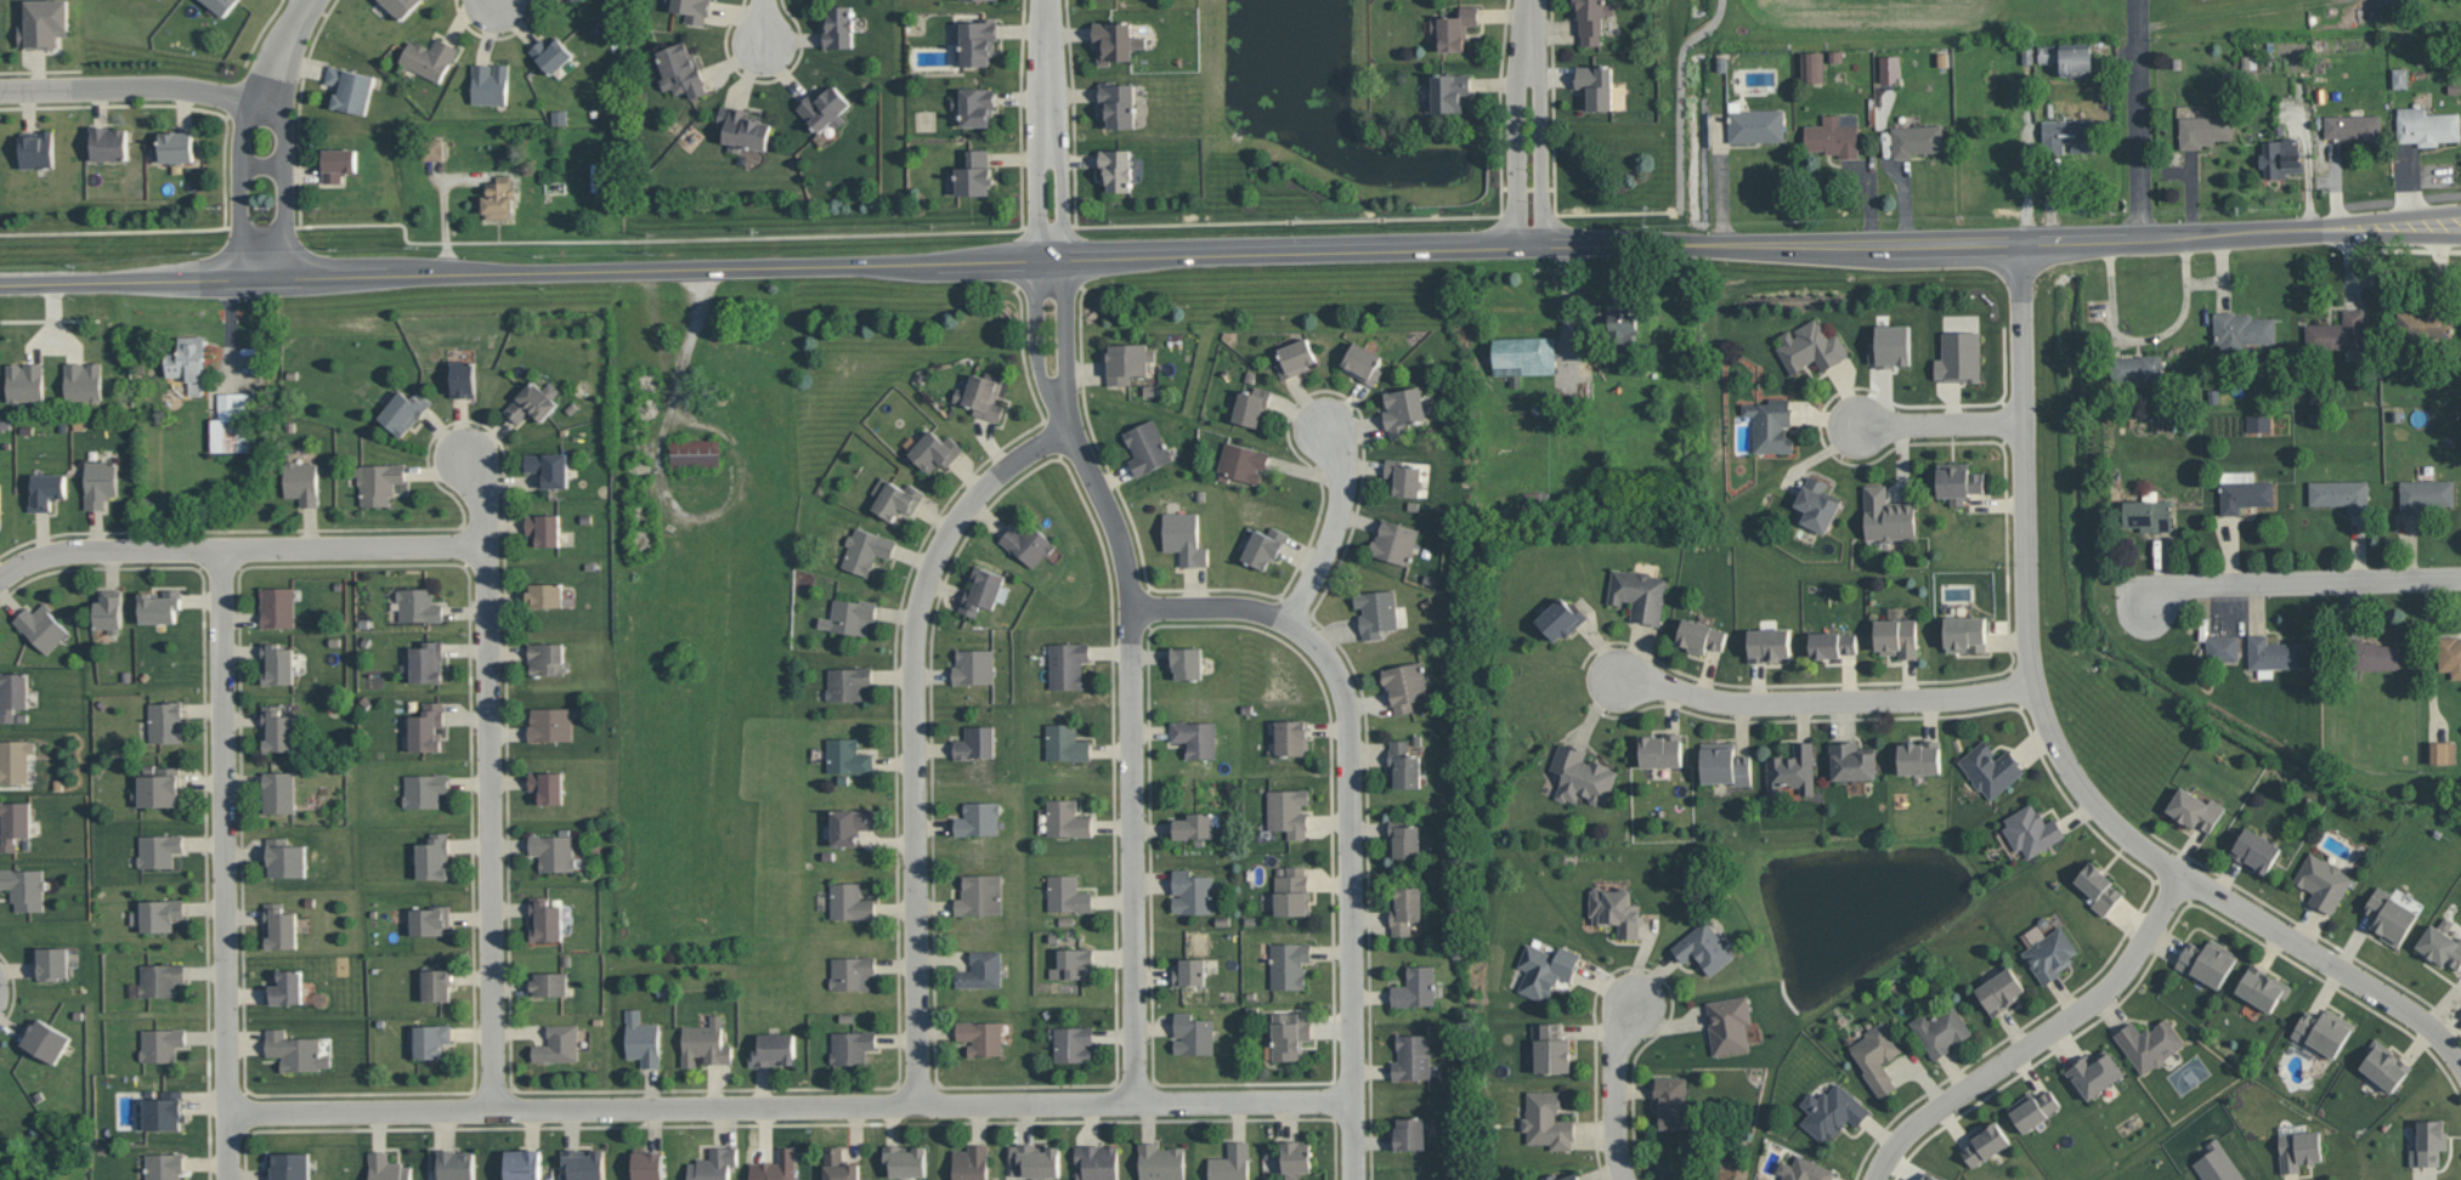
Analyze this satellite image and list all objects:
building: (558, 0)
road: (498, 1)
building: (222, 5)
building: (401, 6)
building: (692, 8)
building: (1591, 18)
road: (758, 19)
building: (45, 23)
building: (839, 27)
building: (1454, 27)
building: (1115, 40)
building: (978, 41)
road: (282, 50)
building: (551, 53)
building: (2047, 53)
building: (429, 57)
building: (2076, 61)
building: (1814, 67)
building: (1889, 68)
building: (681, 69)
building: (2400, 78)
building: (491, 83)
building: (1596, 85)
building: (350, 89)
road: (135, 90)
building: (1449, 91)
road: (1681, 101)
building: (1118, 103)
building: (975, 106)
building: (825, 107)
road: (2137, 118)
road: (1517, 124)
building: (1755, 125)
building: (2353, 126)
building: (2427, 126)
building: (743, 127)
road: (1048, 130)
building: (2203, 130)
building: (1834, 135)
building: (2069, 135)
building: (1916, 140)
building: (109, 143)
building: (176, 146)
building: (38, 148)
building: (435, 148)
building: (2281, 157)
road: (262, 164)
building: (338, 164)
building: (1116, 169)
building: (975, 174)
building: (598, 176)
road: (238, 189)
road: (285, 189)
building: (499, 198)
road: (1599, 211)
road: (2387, 215)
road: (2388, 232)
road: (1158, 257)
building: (2422, 320)
building: (1622, 322)
building: (2244, 331)
building: (2338, 331)
building: (1890, 345)
building: (1811, 346)
building: (1524, 354)
road: (685, 357)
building: (1295, 357)
building: (1958, 357)
building: (1128, 361)
building: (189, 363)
building: (1363, 363)
building: (2137, 368)
building: (463, 379)
building: (83, 380)
building: (26, 381)
building: (983, 396)
building: (533, 402)
building: (1251, 403)
building: (1403, 408)
building: (404, 410)
building: (231, 422)
road: (1940, 422)
building: (2258, 422)
building: (1771, 424)
building: (1147, 446)
building: (935, 449)
building: (696, 452)
building: (1241, 463)
building: (550, 466)
building: (1403, 477)
building: (379, 481)
building: (1958, 481)
building: (100, 482)
building: (301, 482)
building: (46, 489)
building: (2244, 492)
building: (2341, 494)
building: (2427, 494)
building: (896, 498)
building: (1816, 503)
building: (1886, 515)
building: (2149, 515)
building: (0, 521)
building: (544, 527)
road: (1334, 528)
building: (1184, 537)
building: (1394, 541)
building: (1028, 543)
road: (238, 546)
building: (1265, 546)
building: (866, 549)
road: (2302, 582)
building: (983, 590)
building: (545, 594)
building: (1639, 594)
building: (419, 605)
building: (160, 606)
building: (277, 606)
building: (109, 611)
building: (1376, 611)
building: (849, 615)
building: (1561, 618)
building: (41, 626)
building: (1964, 634)
building: (1701, 636)
building: (1896, 636)
building: (1832, 643)
building: (1769, 645)
building: (2222, 648)
building: (2273, 654)
building: (2450, 654)
building: (2375, 656)
building: (547, 657)
building: (428, 662)
building: (1187, 662)
road: (2031, 662)
building: (278, 663)
building: (1068, 664)
building: (974, 665)
road: (1131, 673)
building: (848, 682)
building: (1404, 685)
building: (12, 693)
road: (1826, 698)
building: (166, 721)
building: (550, 725)
building: (428, 726)
building: (278, 728)
road: (913, 733)
building: (1196, 737)
building: (1291, 737)
building: (977, 742)
building: (1067, 743)
building: (1662, 749)
building: (2442, 751)
building: (848, 755)
building: (1919, 756)
building: (15, 760)
building: (1851, 760)
building: (1725, 764)
building: (1404, 765)
building: (1991, 768)
building: (1792, 770)
building: (1582, 776)
road: (485, 779)
building: (548, 785)
building: (158, 788)
building: (424, 789)
building: (279, 792)
road: (1348, 809)
building: (2194, 809)
building: (1288, 811)
building: (978, 818)
building: (1067, 818)
building: (13, 823)
building: (850, 824)
building: (1194, 826)
building: (2032, 830)
building: (1404, 838)
building: (159, 849)
building: (2256, 850)
building: (554, 851)
building: (434, 856)
building: (285, 857)
road: (226, 863)
building: (2323, 881)
building: (24, 886)
building: (2098, 886)
building: (1292, 890)
building: (1193, 891)
building: (979, 893)
building: (1068, 893)
building: (850, 901)
building: (1405, 908)
building: (1616, 910)
building: (160, 914)
building: (2389, 915)
building: (430, 919)
building: (545, 919)
building: (279, 925)
building: (2440, 946)
building: (1704, 947)
building: (2050, 954)
building: (2207, 960)
building: (52, 961)
building: (1074, 963)
building: (1289, 964)
building: (981, 969)
building: (1546, 969)
building: (853, 971)
building: (1190, 971)
building: (160, 978)
building: (435, 983)
building: (550, 983)
building: (284, 987)
building: (1416, 987)
building: (2262, 987)
building: (1999, 989)
road: (2394, 1000)
building: (1729, 1023)
building: (1940, 1029)
building: (2324, 1031)
building: (1193, 1033)
building: (1290, 1033)
building: (981, 1036)
road: (2037, 1037)
building: (643, 1038)
building: (45, 1039)
building: (429, 1039)
building: (162, 1043)
building: (559, 1043)
building: (705, 1043)
building: (1074, 1043)
building: (2149, 1043)
building: (852, 1045)
building: (1551, 1046)
building: (774, 1049)
building: (296, 1050)
building: (1877, 1055)
building: (1411, 1057)
building: (2384, 1063)
building: (2094, 1072)
road: (1616, 1090)
building: (1671, 1101)
road: (790, 1105)
building: (2032, 1108)
building: (165, 1111)
building: (1832, 1111)
building: (1548, 1119)
building: (1410, 1133)
building: (1985, 1142)
building: (2428, 1142)
building: (2298, 1150)
building: (1297, 1156)
building: (905, 1159)
building: (1036, 1159)
building: (972, 1162)
building: (1097, 1162)
building: (1161, 1162)
building: (1232, 1162)
building: (584, 1163)
building: (454, 1164)
building: (524, 1164)
building: (714, 1164)
building: (839, 1164)
building: (2218, 1164)
building: (164, 1165)
building: (288, 1165)
building: (649, 1165)
building: (780, 1165)
building: (387, 1168)
building: (1805, 1169)
building: (1552, 1175)
building: (1929, 1176)

